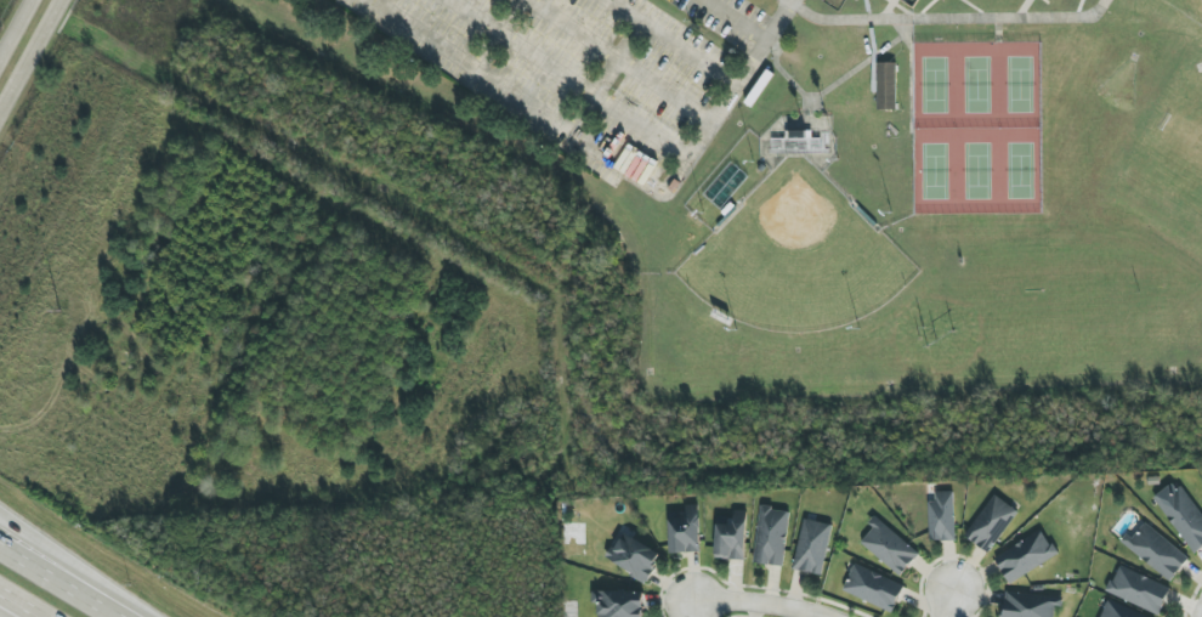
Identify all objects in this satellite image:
road: (15, 28)
road: (755, 33)
road: (29, 51)
building: (885, 85)
building: (790, 142)
road: (584, 149)
stadium: (787, 237)
park: (794, 257)
building: (1183, 515)
building: (942, 517)
building: (991, 523)
building: (686, 532)
building: (771, 537)
building: (732, 538)
building: (812, 547)
building: (889, 548)
building: (1156, 550)
building: (1026, 556)
building: (634, 557)
road: (75, 568)
road: (57, 582)
building: (873, 588)
building: (1139, 589)
road: (753, 602)
road: (945, 602)
building: (618, 604)
road: (19, 605)
building: (1030, 605)
building: (1119, 611)
road: (0, 616)
road: (1201, 616)

